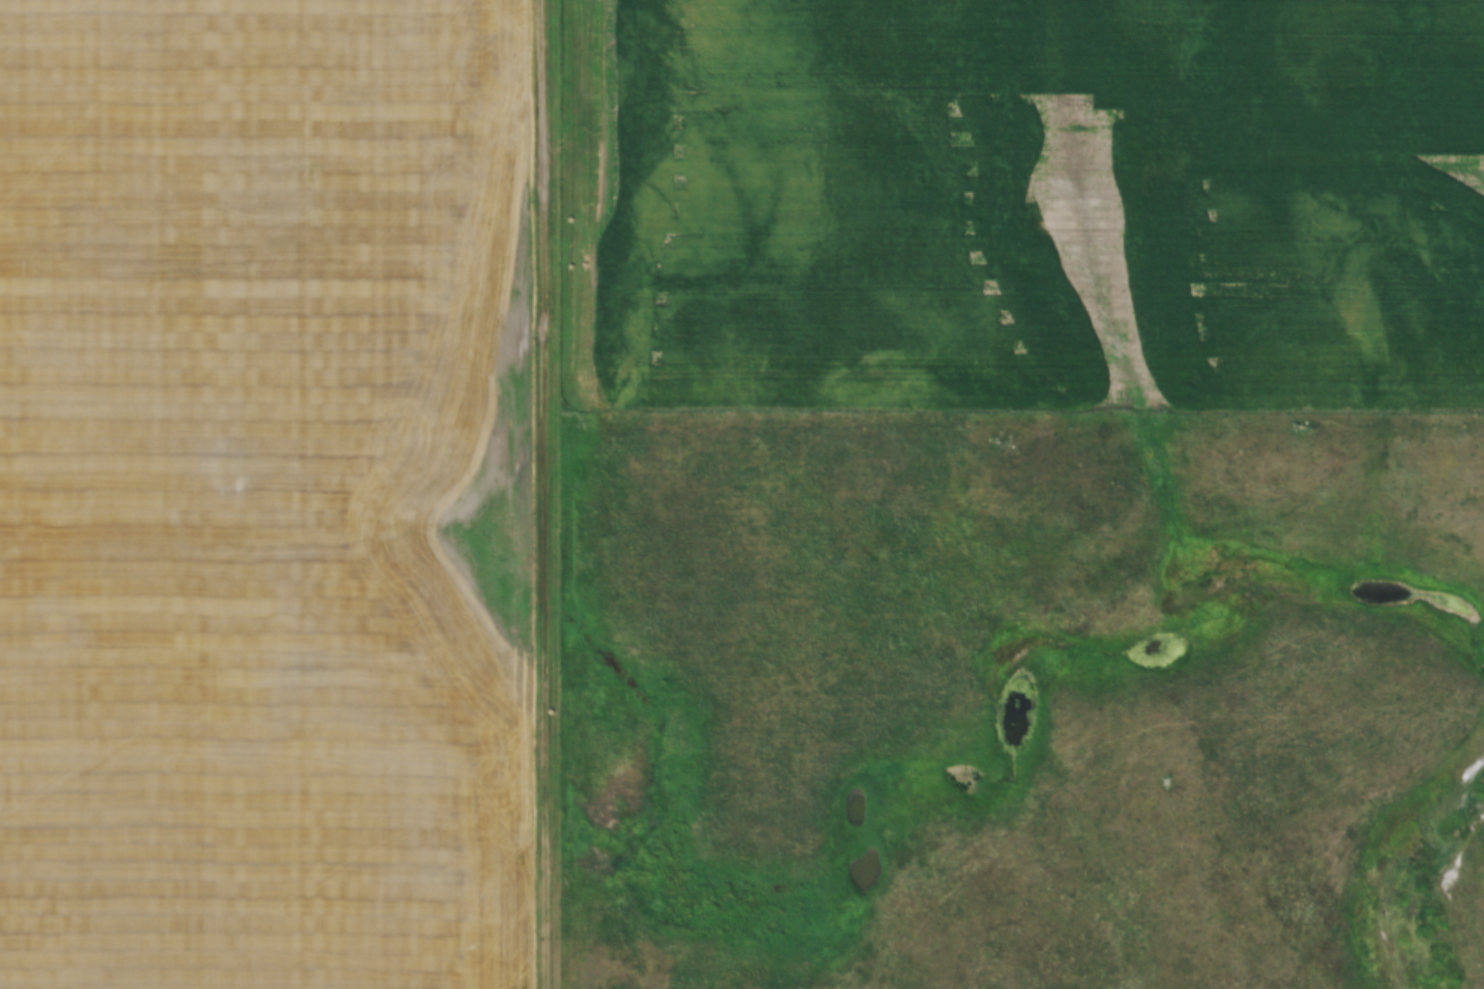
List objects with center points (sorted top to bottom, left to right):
road: (546, 494)

